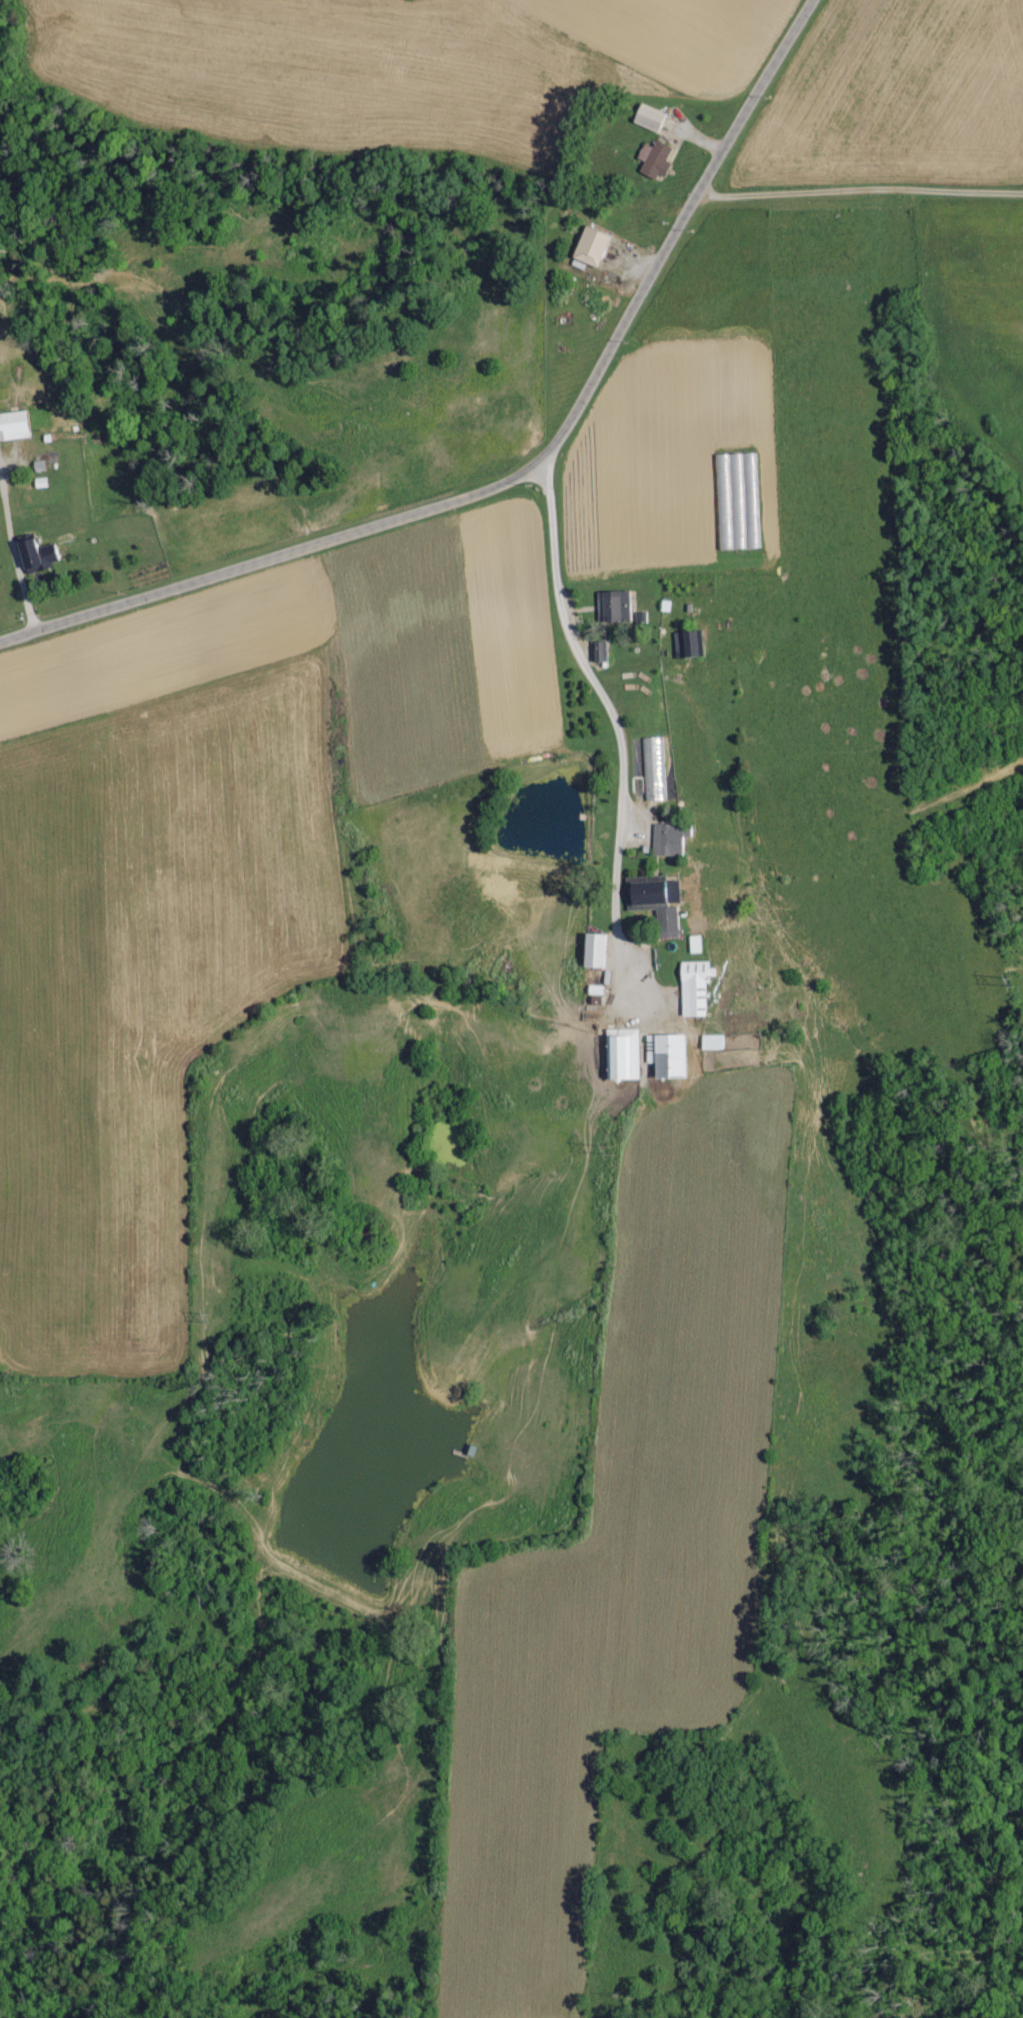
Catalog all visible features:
building: (656, 162)
road: (858, 193)
building: (596, 248)
building: (16, 428)
road: (526, 471)
building: (739, 503)
building: (40, 557)
road: (14, 558)
building: (616, 608)
building: (690, 647)
building: (598, 654)
road: (614, 718)
building: (656, 770)
building: (671, 843)
building: (673, 920)
building: (696, 946)
building: (600, 953)
building: (698, 990)
building: (624, 1057)
building: (670, 1058)
power tower: (618, 1149)
power tower: (214, 1320)

